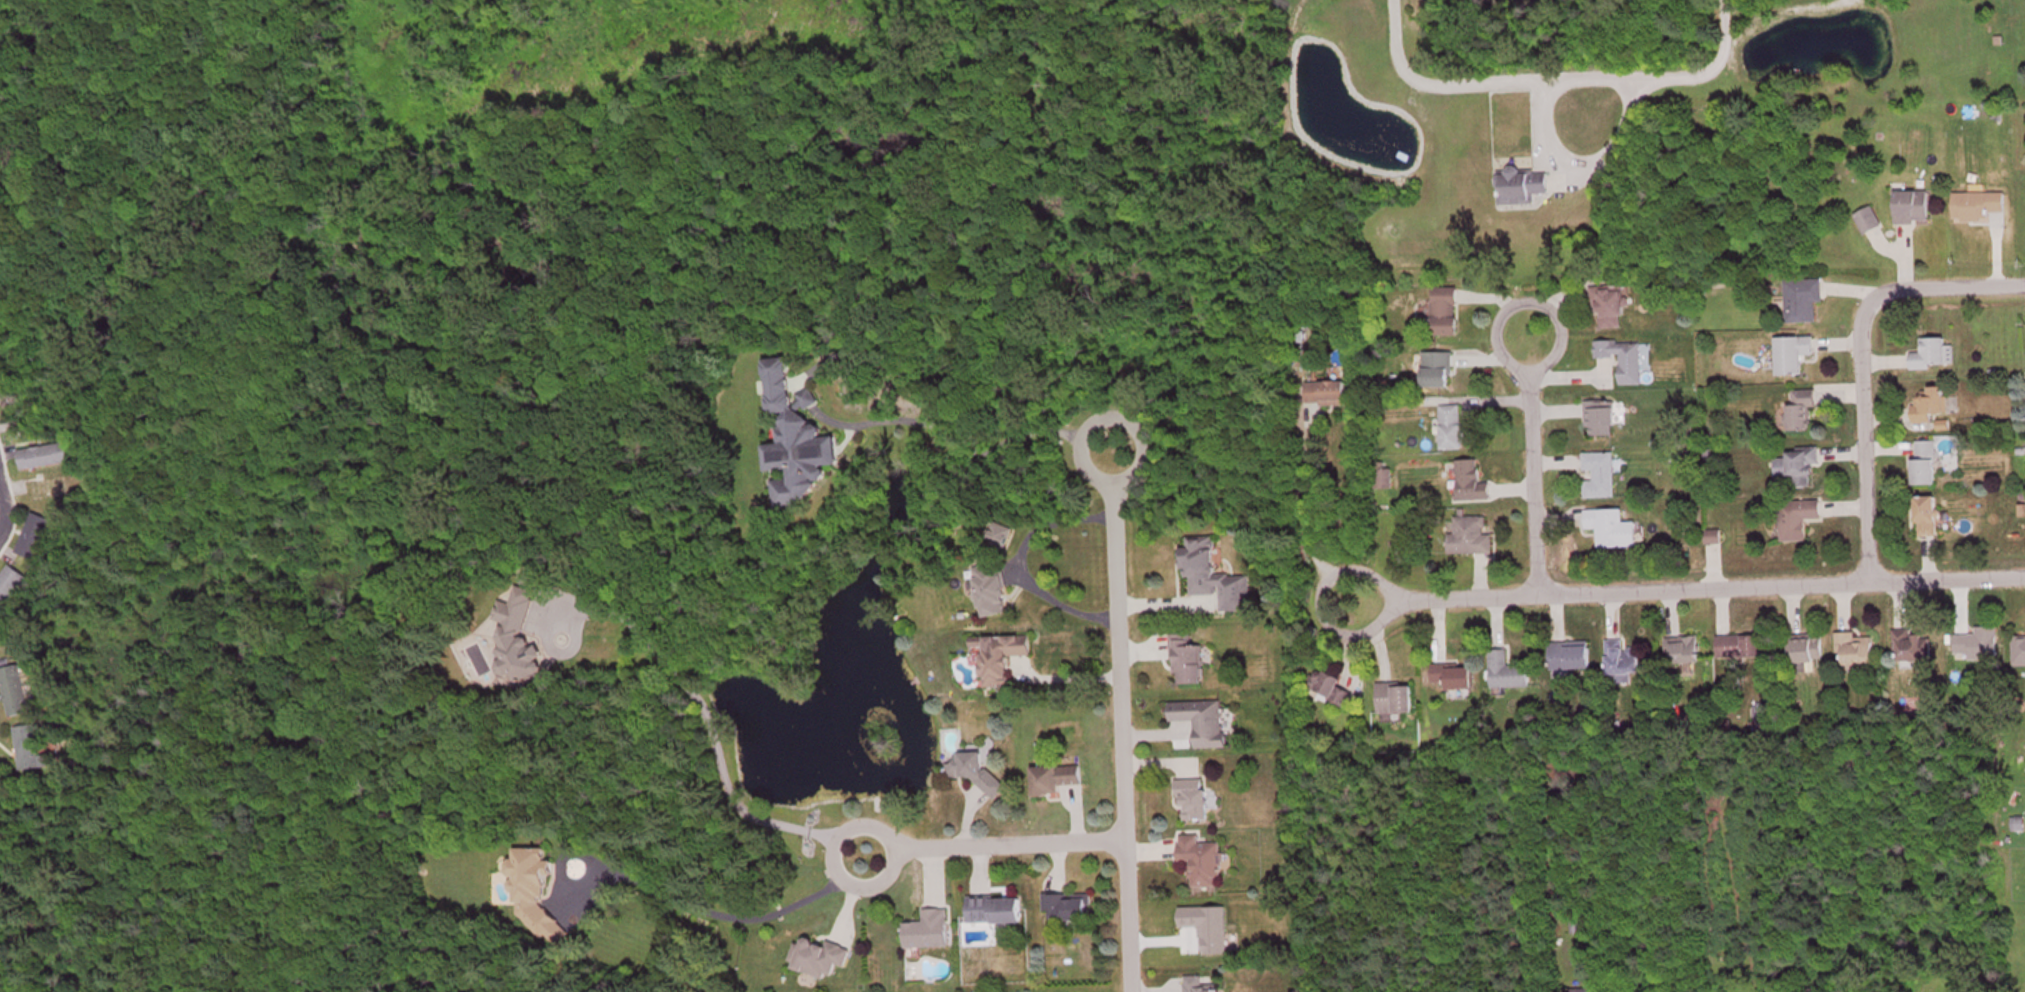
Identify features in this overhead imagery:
building: (1524, 187)
building: (1979, 207)
building: (1914, 208)
building: (1869, 222)
building: (1803, 302)
building: (1611, 308)
building: (1445, 312)
building: (1794, 356)
building: (1933, 356)
road: (1855, 358)
building: (1626, 361)
building: (1440, 372)
building: (1327, 396)
building: (1930, 405)
building: (1803, 411)
building: (1603, 421)
building: (1459, 432)
building: (797, 440)
building: (45, 458)
road: (1527, 463)
building: (1928, 465)
building: (1800, 469)
building: (1601, 478)
building: (1473, 484)
building: (1930, 519)
building: (1798, 521)
building: (1614, 530)
building: (1470, 538)
building: (1217, 578)
building: (996, 580)
building: (9, 587)
road: (1686, 587)
building: (520, 643)
building: (1979, 647)
building: (1742, 648)
building: (1914, 649)
building: (1811, 650)
building: (1857, 652)
building: (1686, 653)
building: (2020, 653)
building: (1003, 659)
building: (1572, 659)
building: (1189, 663)
building: (1624, 664)
building: (1509, 674)
building: (1455, 679)
building: (1333, 691)
building: (15, 693)
building: (1398, 701)
road: (1117, 721)
building: (1205, 724)
building: (28, 750)
building: (1057, 781)
building: (1196, 801)
road: (992, 852)
building: (1204, 863)
building: (537, 897)
building: (1070, 909)
building: (998, 912)
building: (1577, 929)
building: (931, 933)
building: (822, 960)
building: (1200, 986)

